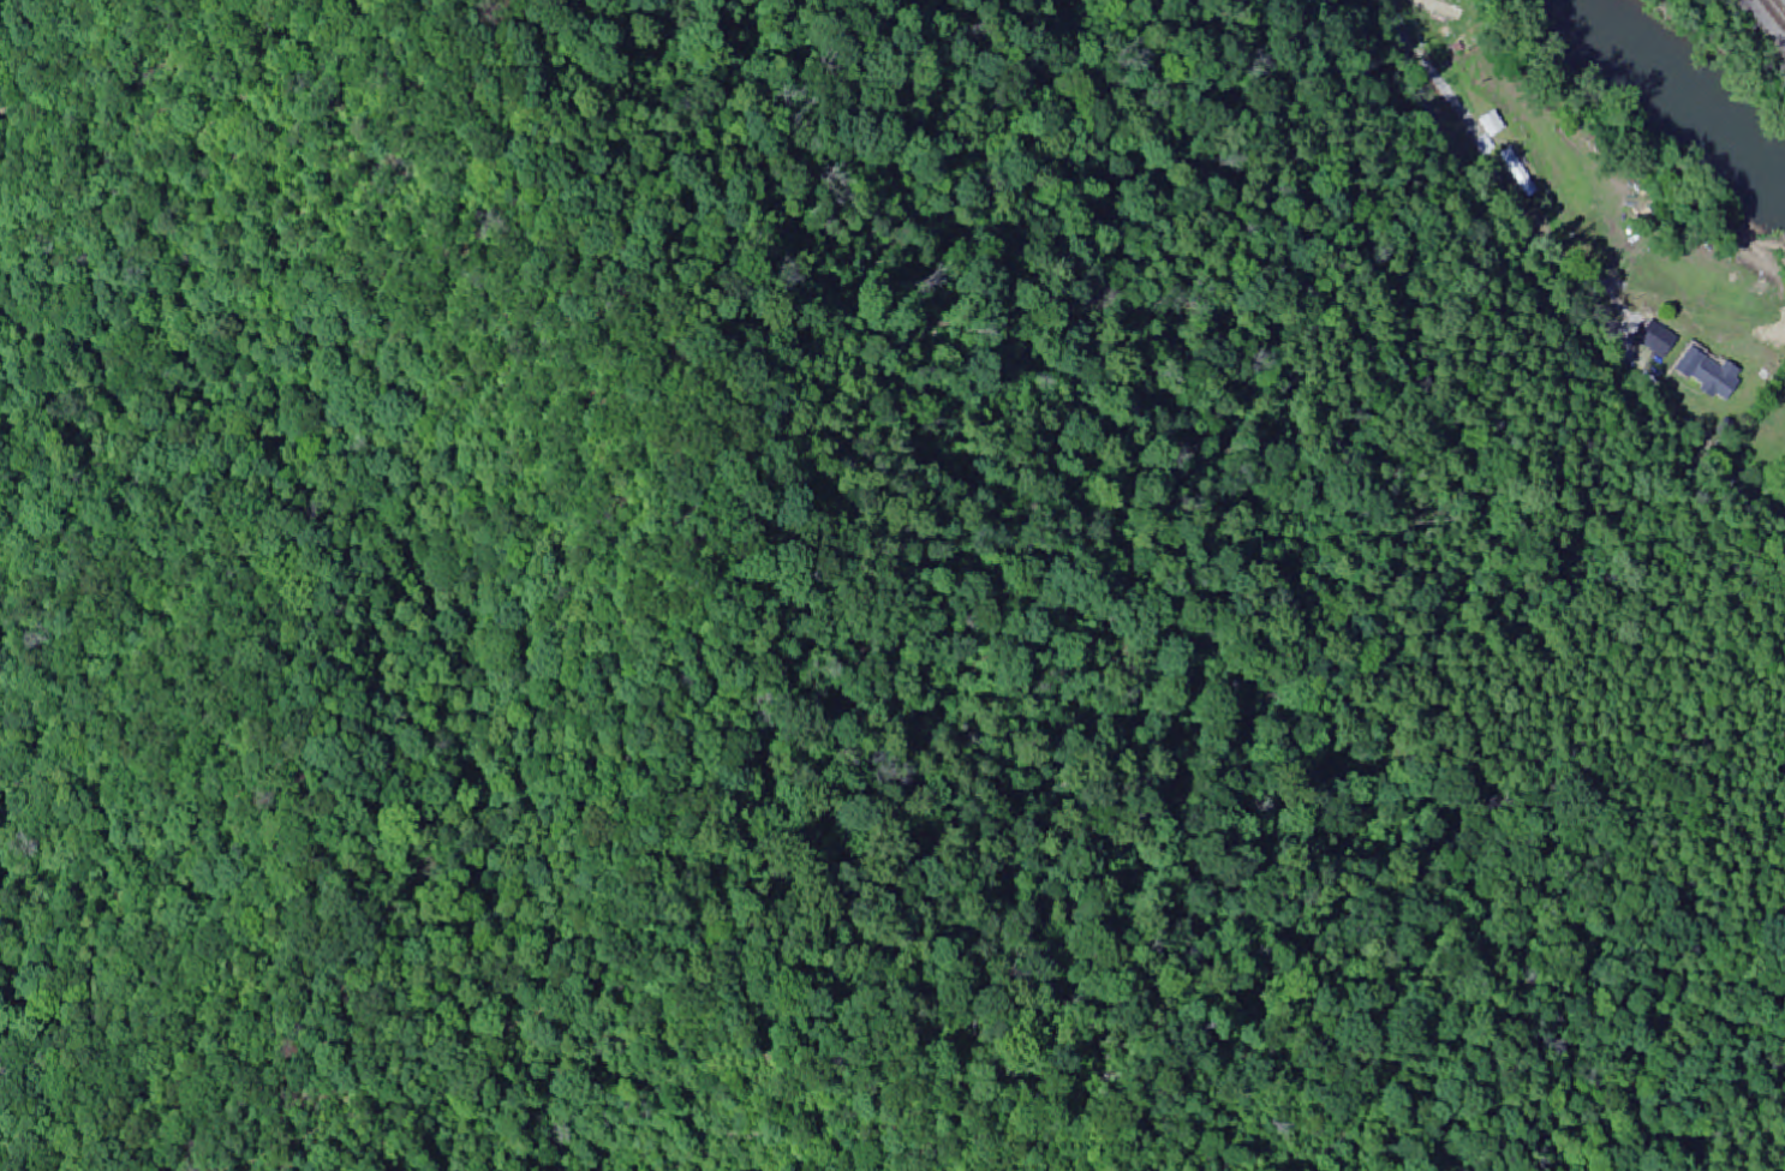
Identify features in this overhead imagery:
railway: (1781, 4)
building: (1435, 8)
road: (1763, 24)
river: (1672, 85)
building: (1490, 126)
road: (1511, 318)
building: (1655, 341)
building: (1705, 375)

